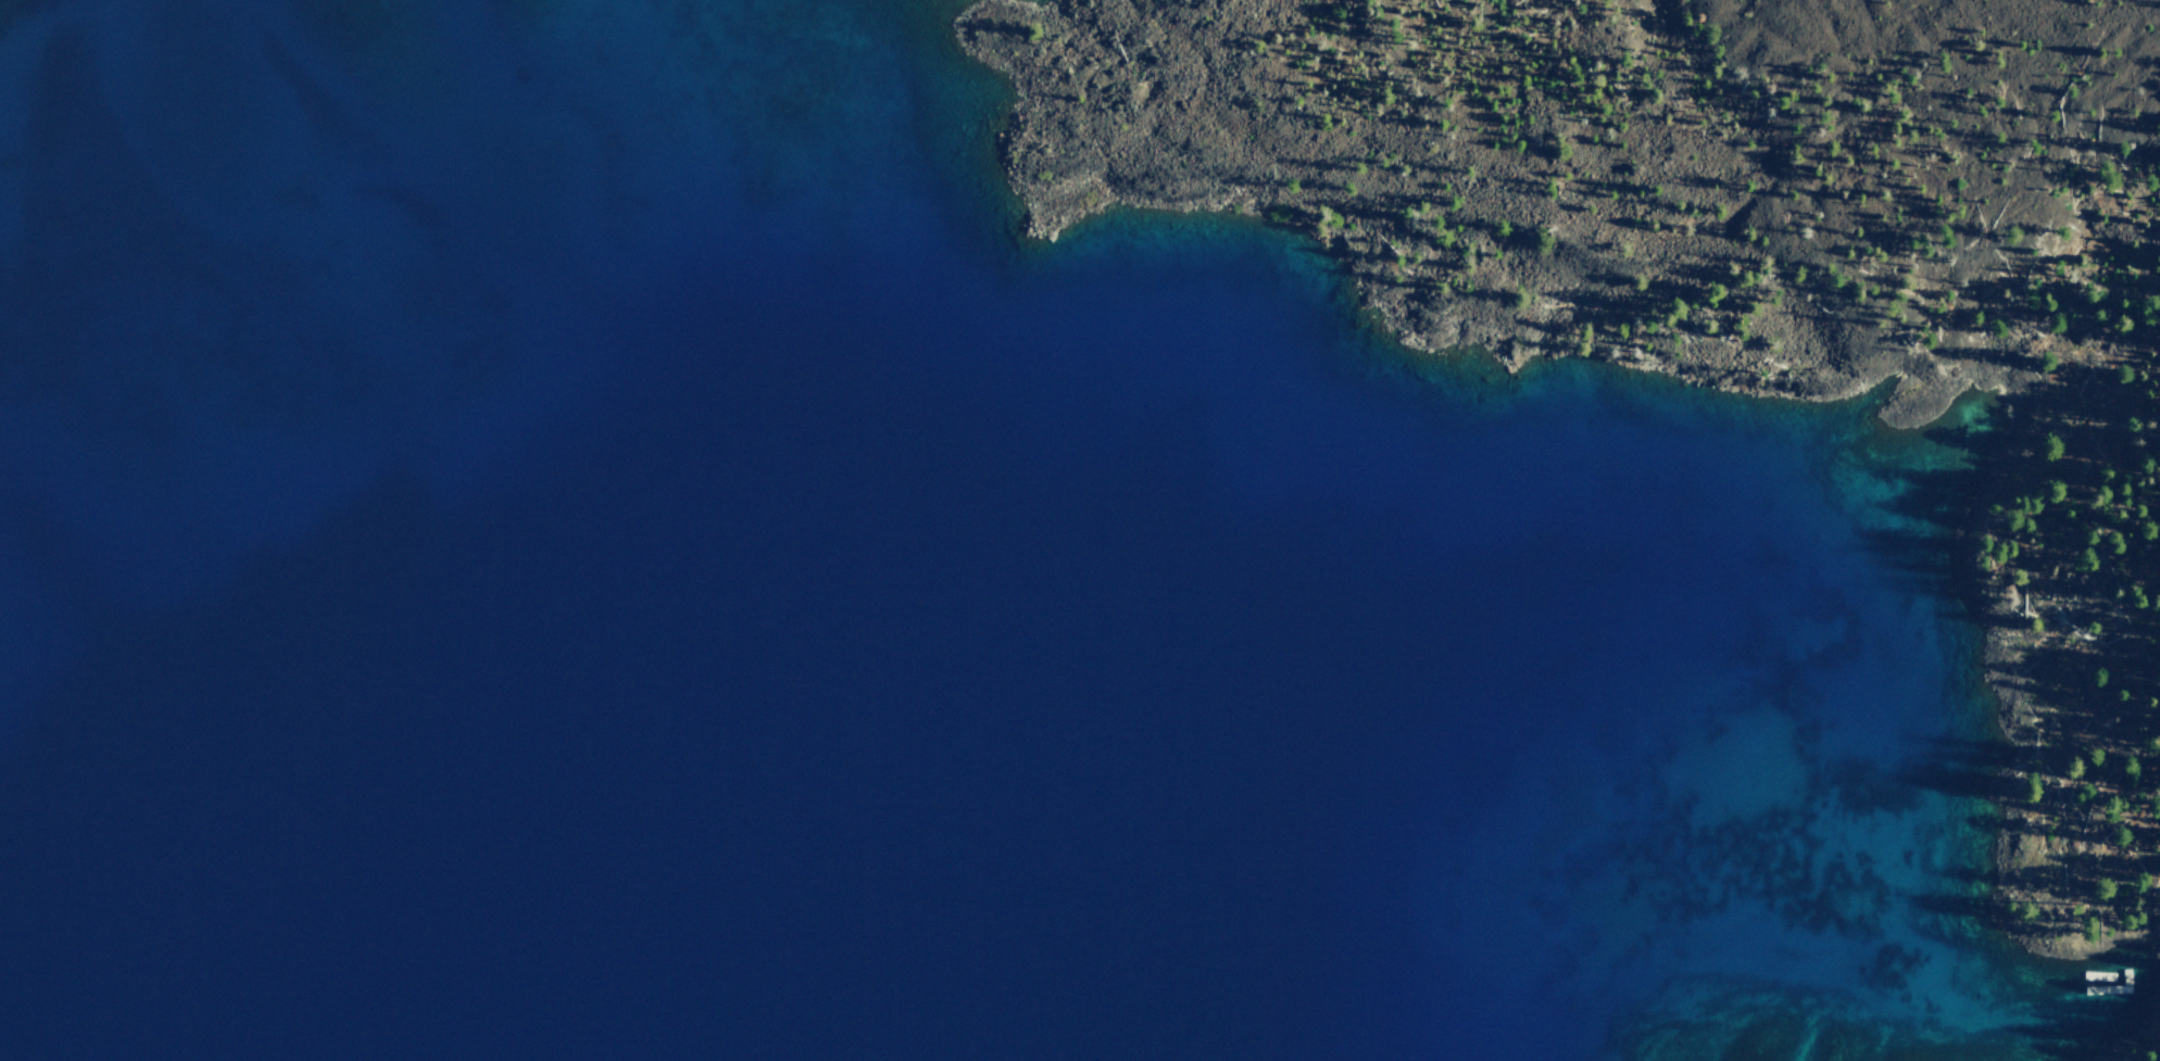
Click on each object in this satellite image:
road: (2072, 643)
road: (2145, 1050)

